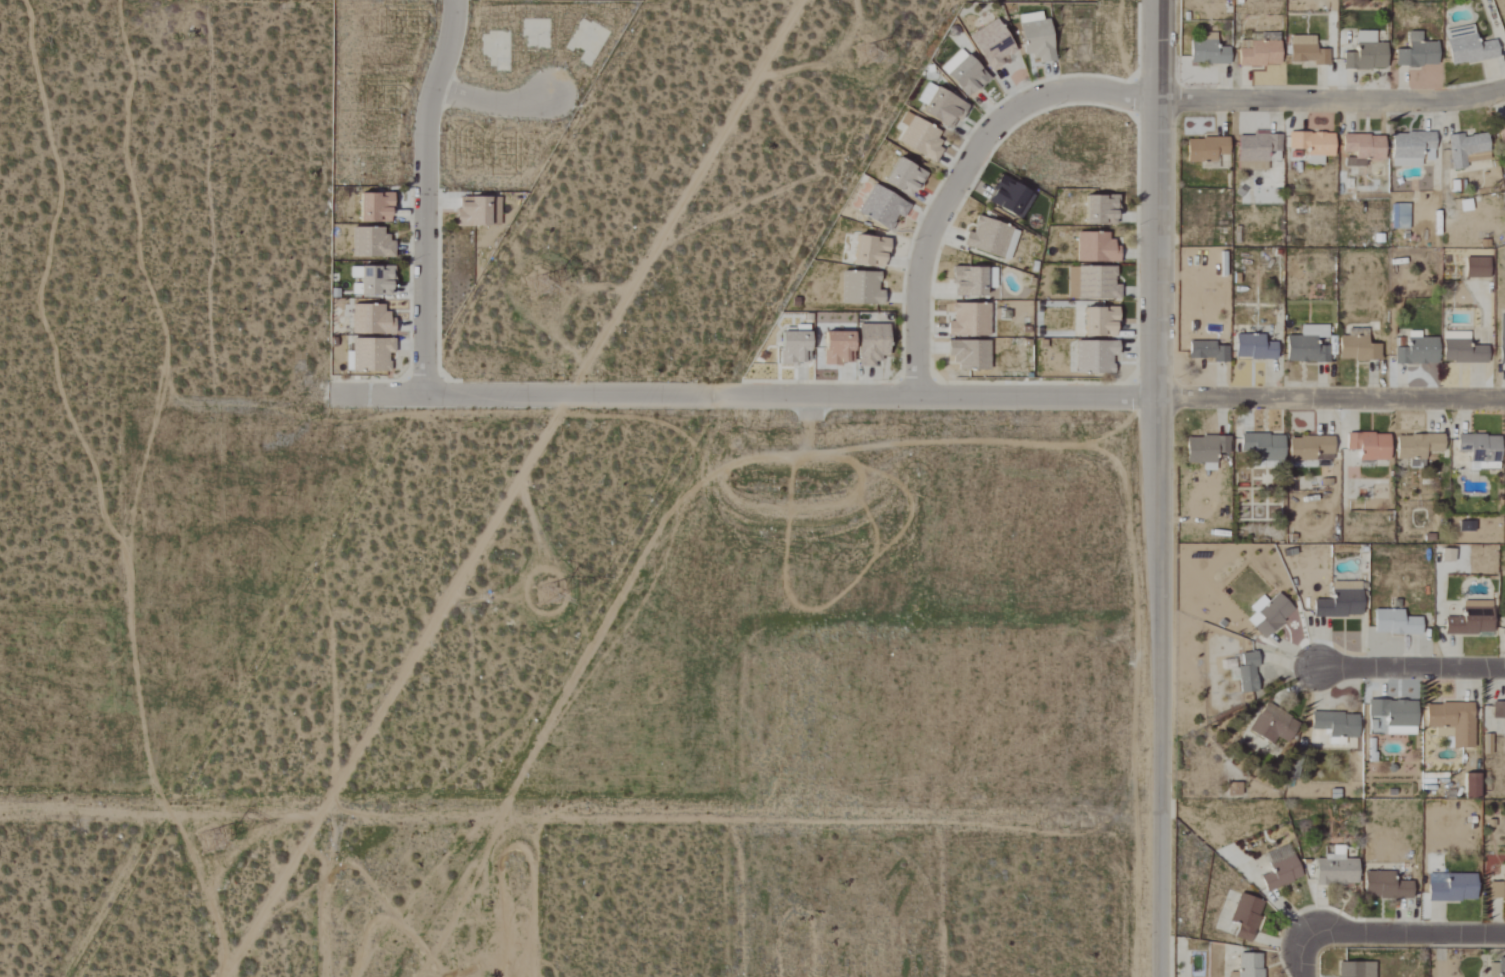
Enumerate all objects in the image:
building: (1036, 38)
building: (993, 46)
building: (1468, 47)
power tower: (872, 48)
building: (1307, 51)
building: (1208, 52)
building: (1417, 53)
building: (1259, 54)
building: (1367, 54)
building: (967, 77)
building: (926, 94)
road: (493, 102)
road: (1331, 102)
building: (944, 109)
building: (1502, 134)
building: (920, 138)
building: (1314, 145)
building: (1410, 147)
building: (1466, 148)
building: (1206, 149)
building: (1363, 149)
building: (1256, 150)
road: (962, 174)
building: (904, 177)
road: (426, 195)
building: (1011, 196)
building: (375, 207)
building: (882, 208)
building: (1100, 209)
building: (478, 211)
building: (1400, 216)
building: (988, 237)
building: (371, 243)
building: (1096, 248)
building: (871, 251)
building: (1477, 267)
building: (376, 280)
building: (968, 281)
building: (1092, 282)
power tower: (542, 288)
building: (861, 288)
building: (371, 320)
building: (969, 320)
building: (1100, 321)
building: (1502, 340)
building: (872, 344)
building: (1308, 345)
building: (794, 347)
building: (1254, 347)
building: (838, 348)
building: (1358, 348)
building: (1462, 349)
building: (1417, 350)
building: (1208, 351)
building: (371, 354)
building: (969, 354)
building: (1095, 356)
road: (755, 395)
road: (1330, 397)
building: (1264, 446)
building: (1370, 446)
building: (1418, 446)
building: (1311, 449)
building: (1480, 449)
building: (1206, 450)
road: (514, 488)
road: (1156, 488)
building: (1448, 556)
power tower: (555, 586)
building: (1340, 601)
building: (1269, 614)
building: (1471, 620)
building: (1395, 623)
building: (1504, 633)
road: (1410, 668)
building: (1248, 673)
building: (1498, 710)
building: (1393, 717)
building: (1452, 723)
building: (1273, 725)
building: (1336, 726)
building: (1234, 789)
road: (84, 809)
road: (665, 813)
power tower: (221, 838)
building: (1281, 869)
building: (1336, 869)
building: (1386, 886)
building: (1498, 887)
building: (1452, 888)
building: (1246, 916)
road: (1405, 933)
road: (1305, 955)
building: (1249, 966)
building: (1497, 968)
building: (1355, 969)

